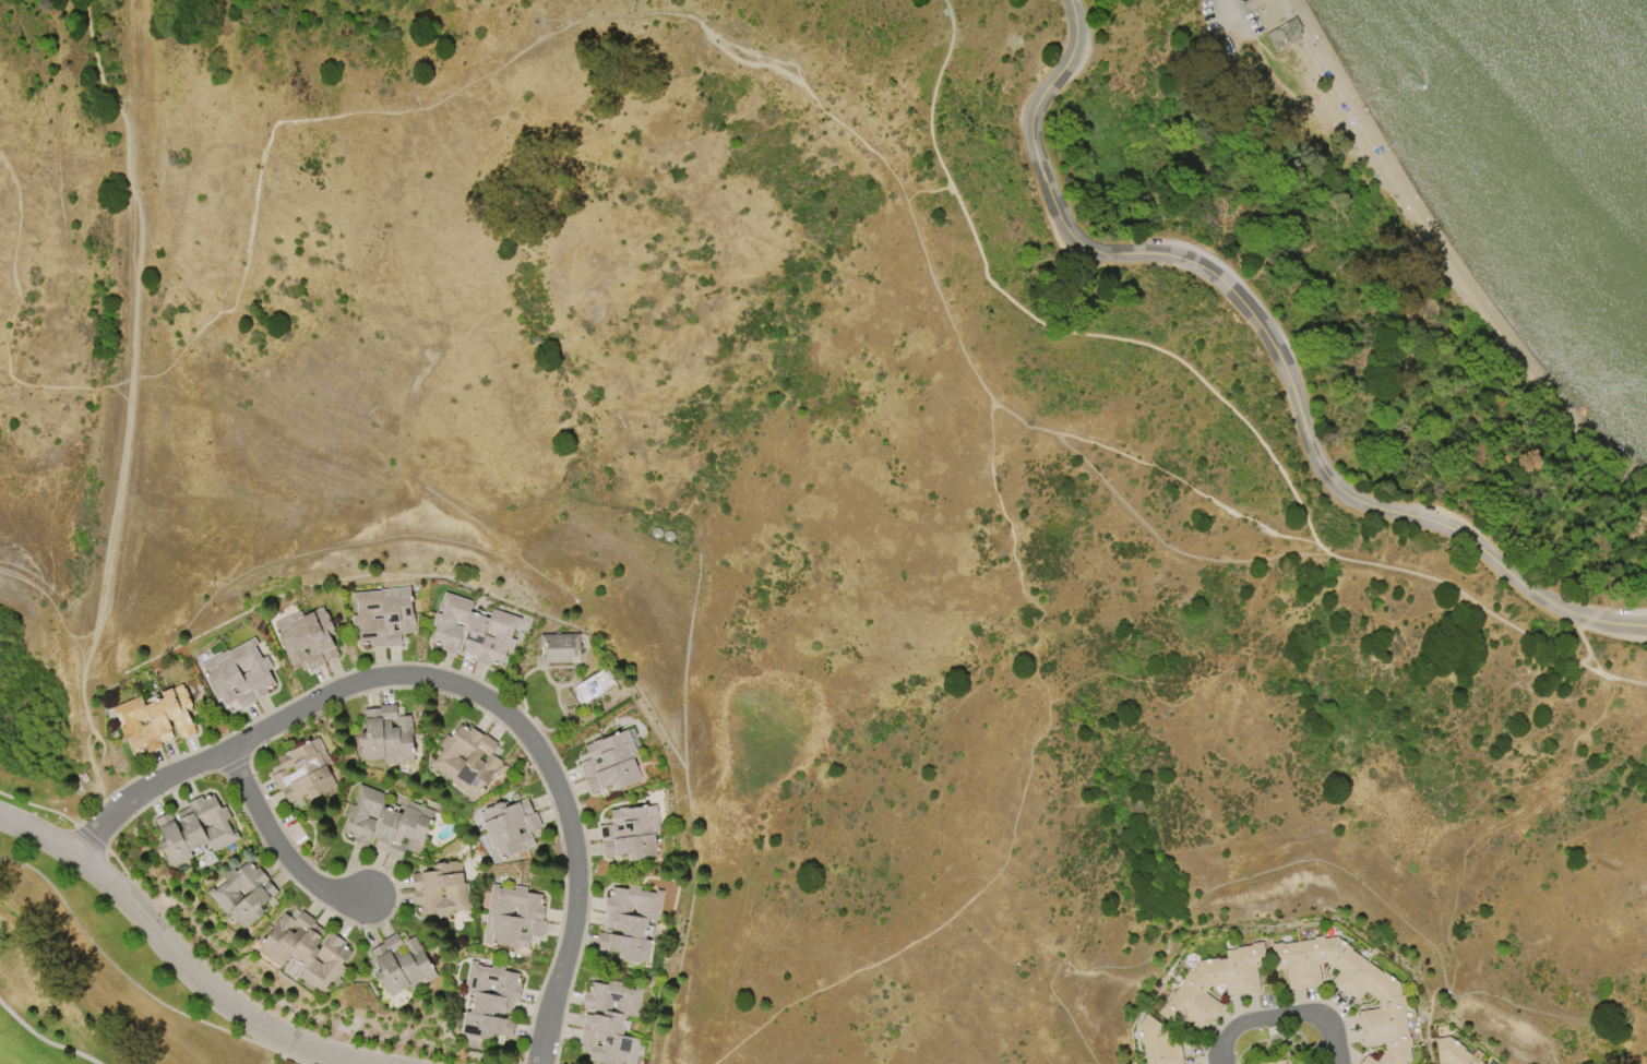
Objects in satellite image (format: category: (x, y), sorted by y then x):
road: (1233, 9)
parking lot: (1234, 17)
building: (1282, 37)
park: (63, 215)
park: (1160, 290)
road: (1273, 346)
road: (1210, 392)
road: (124, 407)
building: (382, 615)
building: (472, 631)
building: (307, 638)
building: (559, 648)
road: (1592, 659)
building: (238, 674)
road: (452, 686)
building: (154, 718)
building: (385, 737)
building: (465, 760)
building: (610, 763)
building: (301, 772)
road: (1025, 779)
building: (386, 823)
building: (506, 828)
building: (193, 829)
building: (631, 834)
road: (277, 846)
building: (425, 893)
building: (242, 894)
building: (511, 917)
building: (630, 921)
building: (303, 948)
road: (172, 951)
building: (399, 965)
building: (1213, 987)
building: (1351, 990)
building: (488, 1001)
road: (1282, 1016)
building: (610, 1024)
park: (33, 1036)
road: (41, 1041)
building: (1158, 1043)
building: (1455, 1052)
road: (297, 1055)
building: (1276, 1062)

